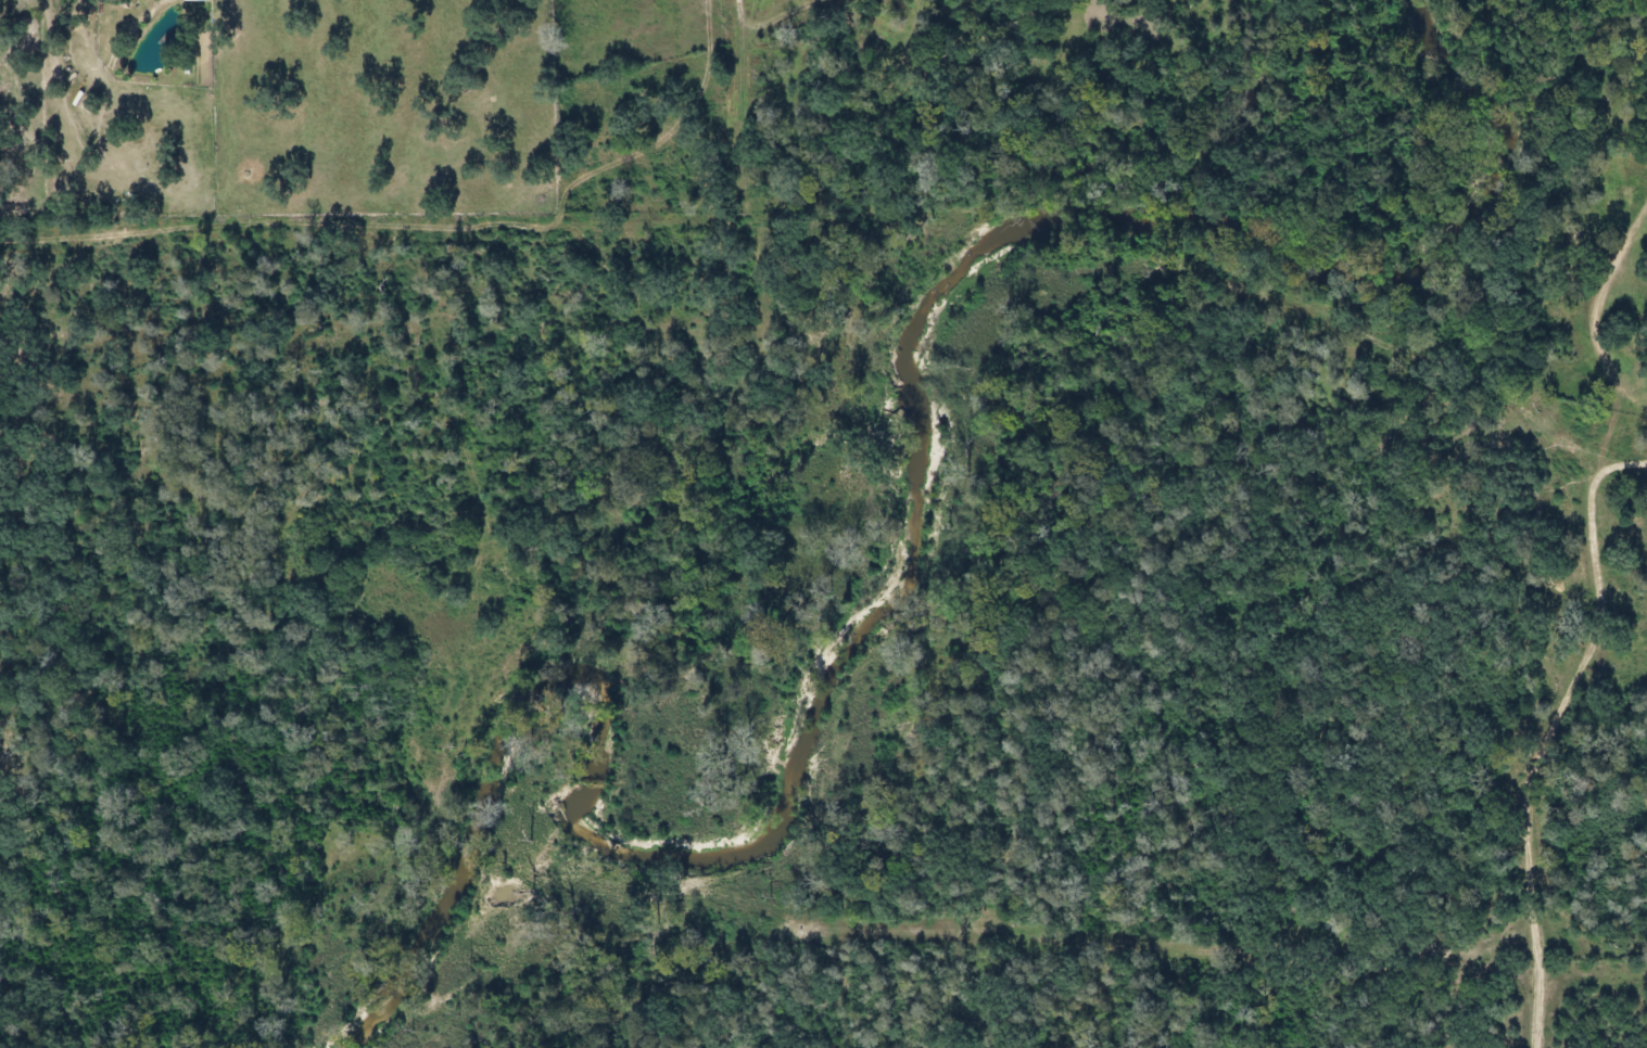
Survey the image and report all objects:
building: (191, 1)
road: (1551, 614)

